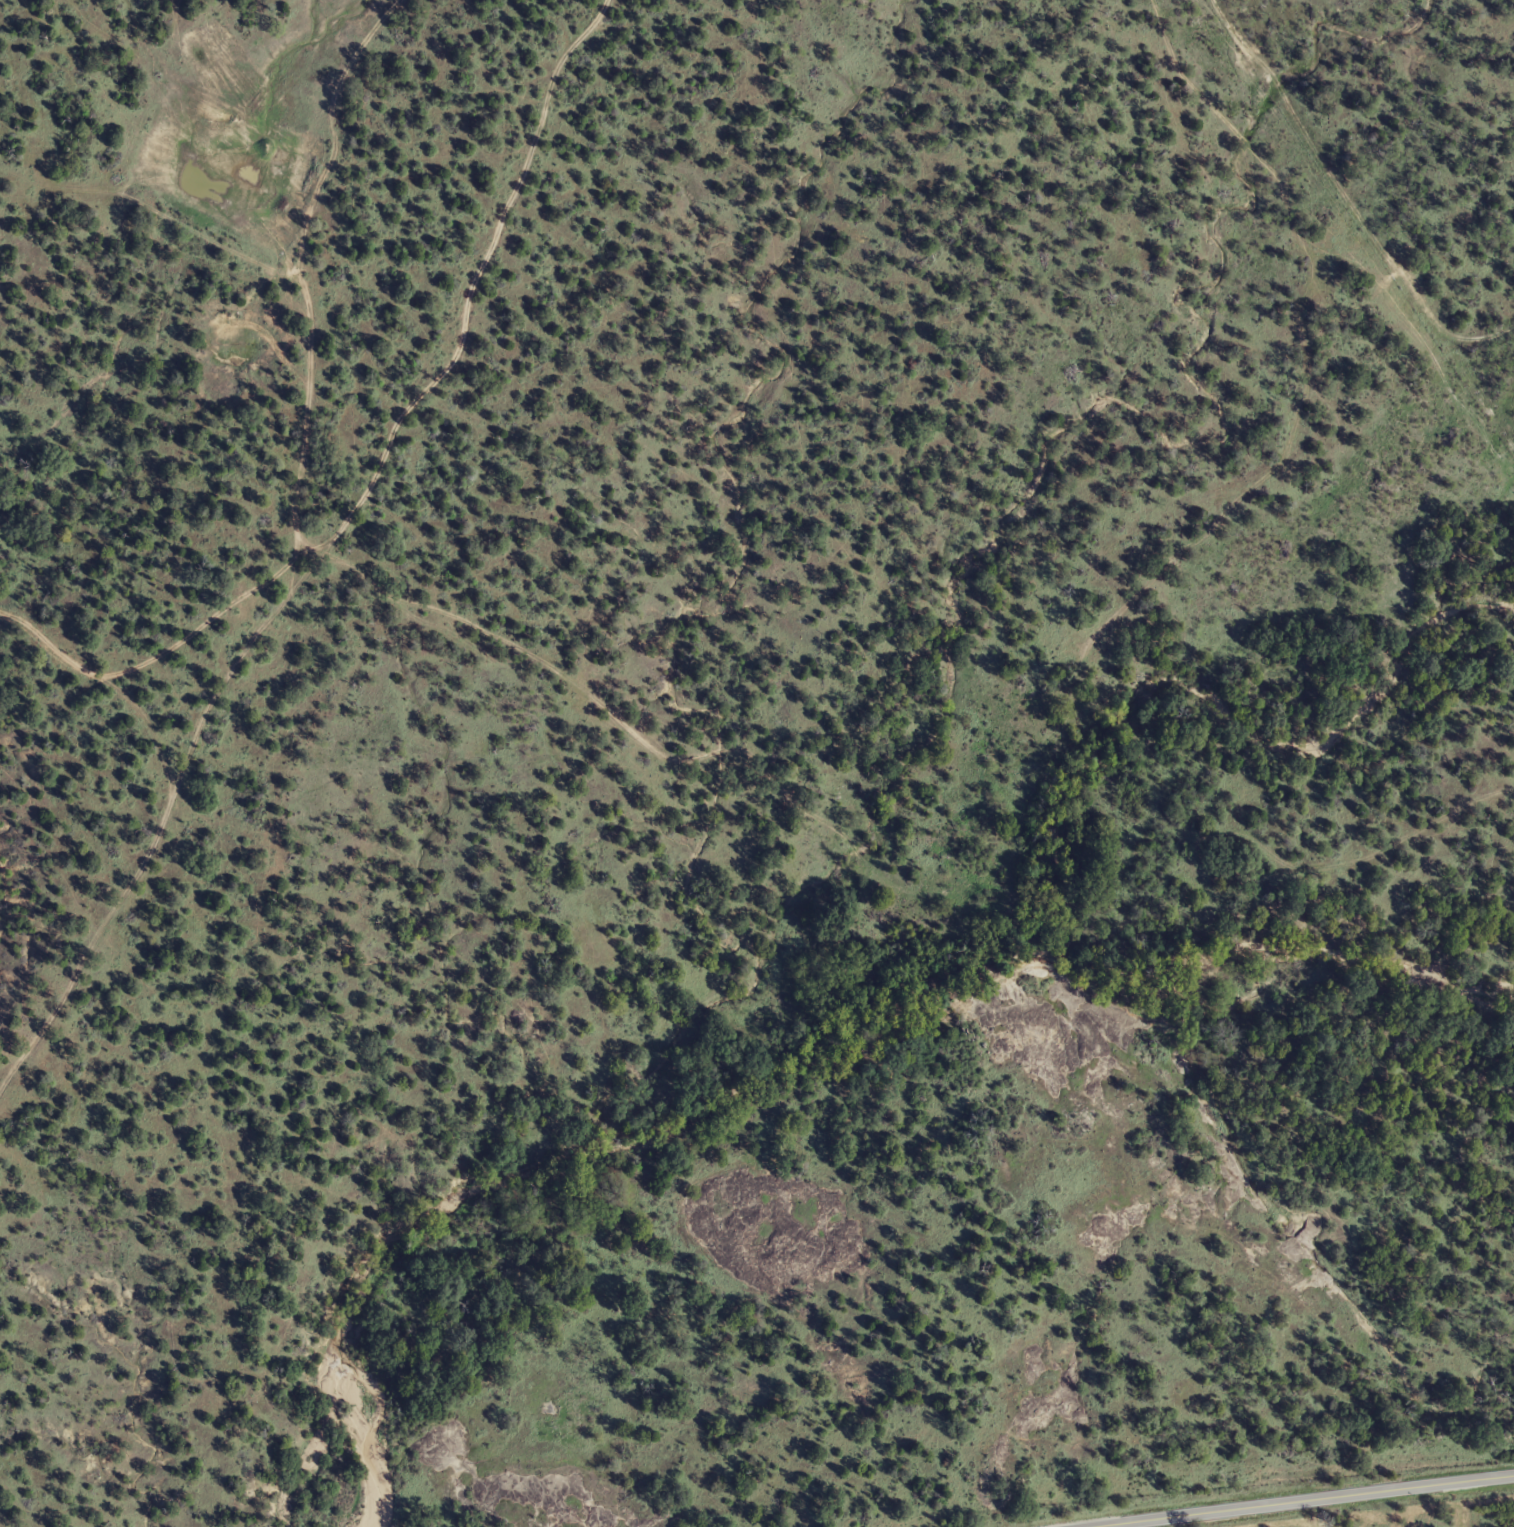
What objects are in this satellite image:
road: (1296, 1500)

